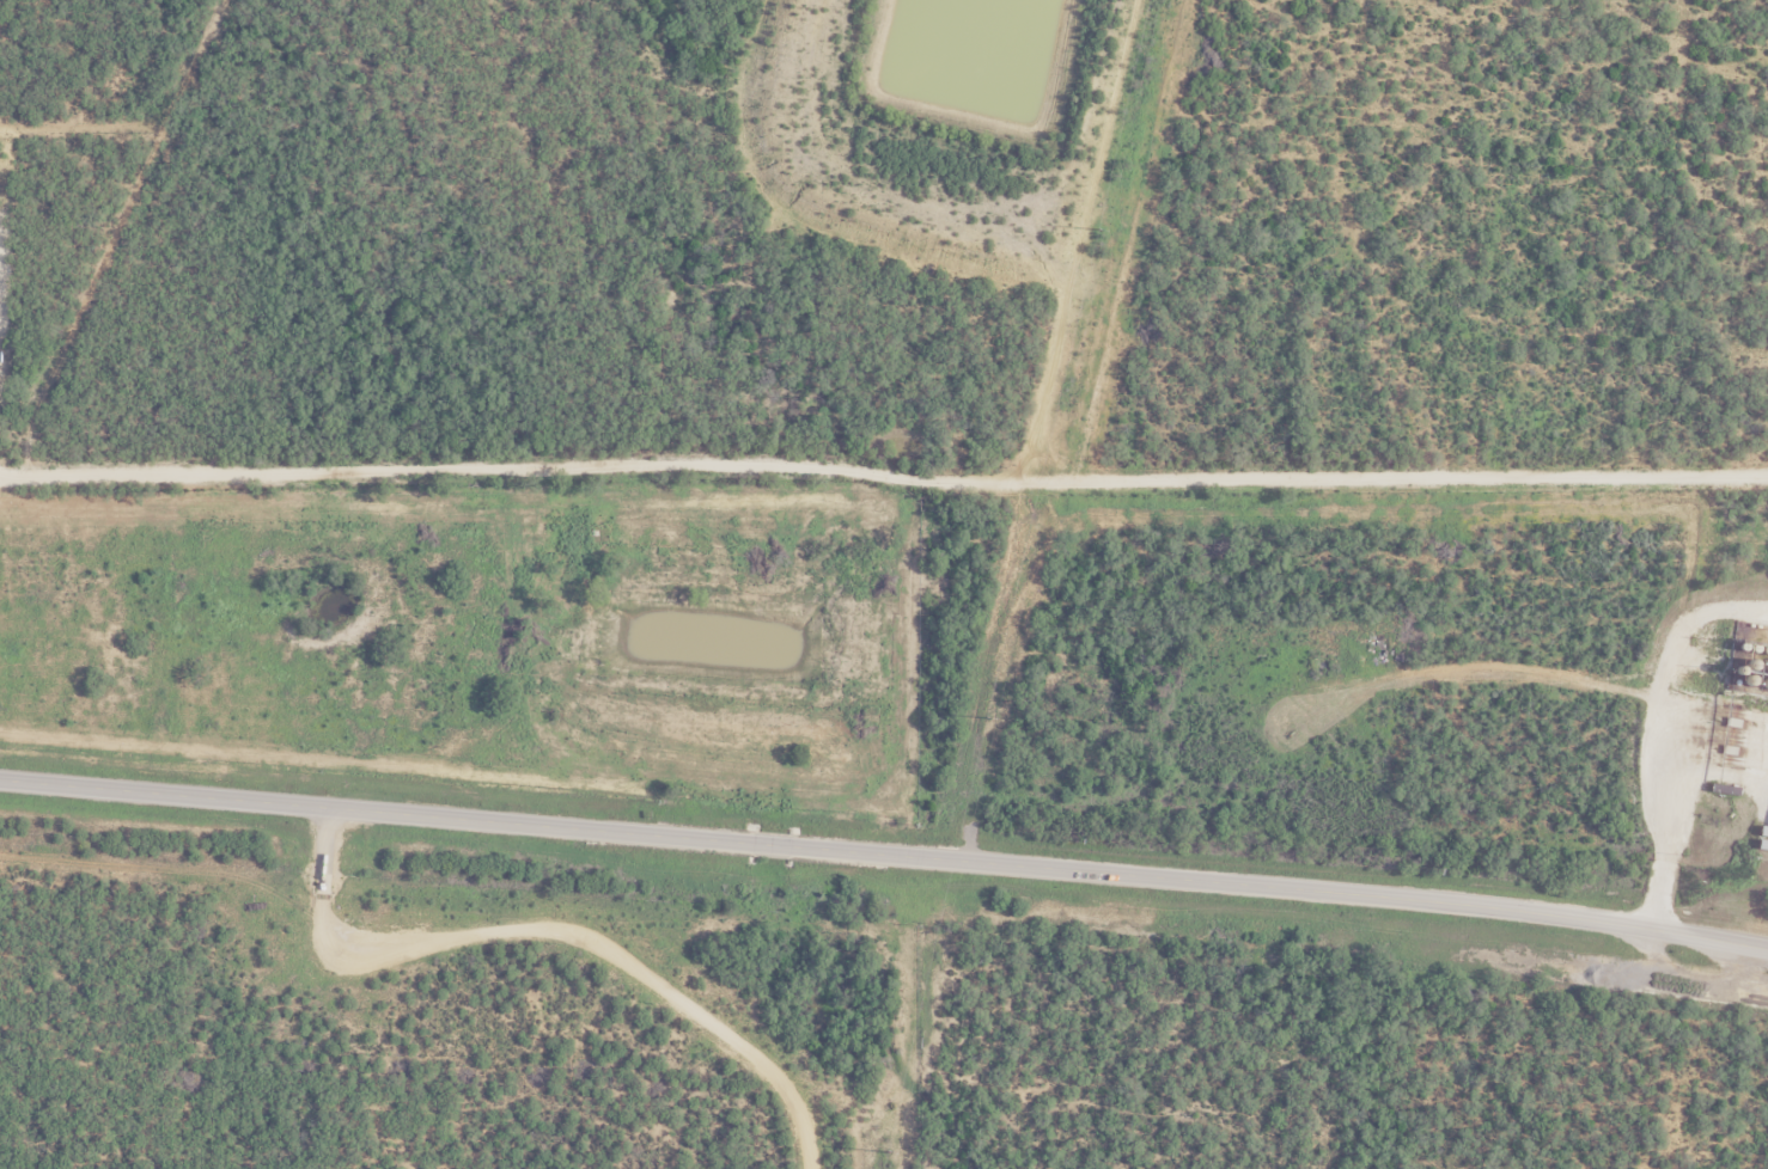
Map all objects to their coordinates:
power tower: (1098, 228)
power tower: (984, 717)
road: (372, 810)
road: (769, 844)
road: (1280, 887)
road: (559, 934)
power tower: (885, 1151)

